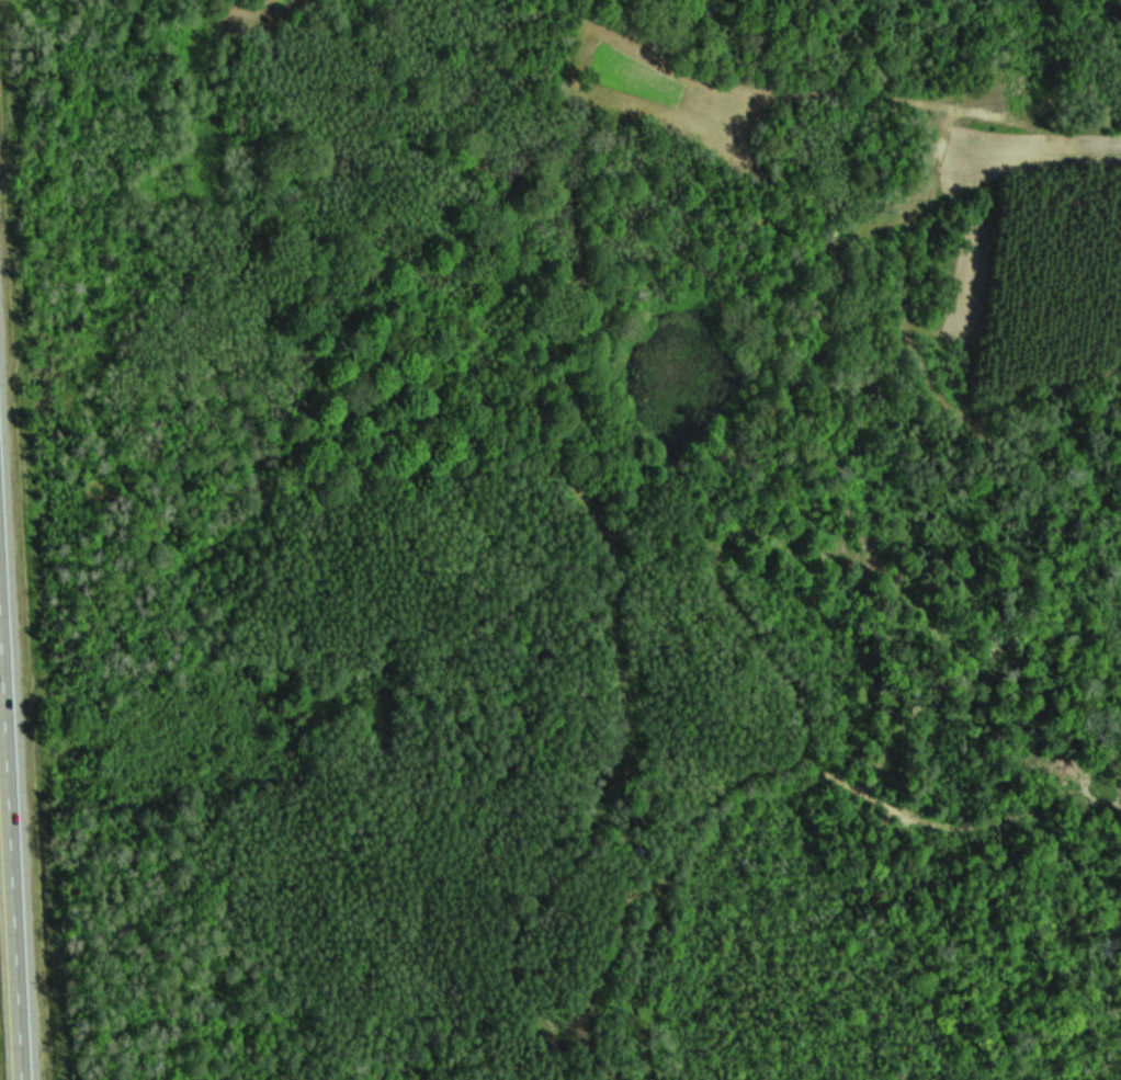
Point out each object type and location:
road: (10, 863)

